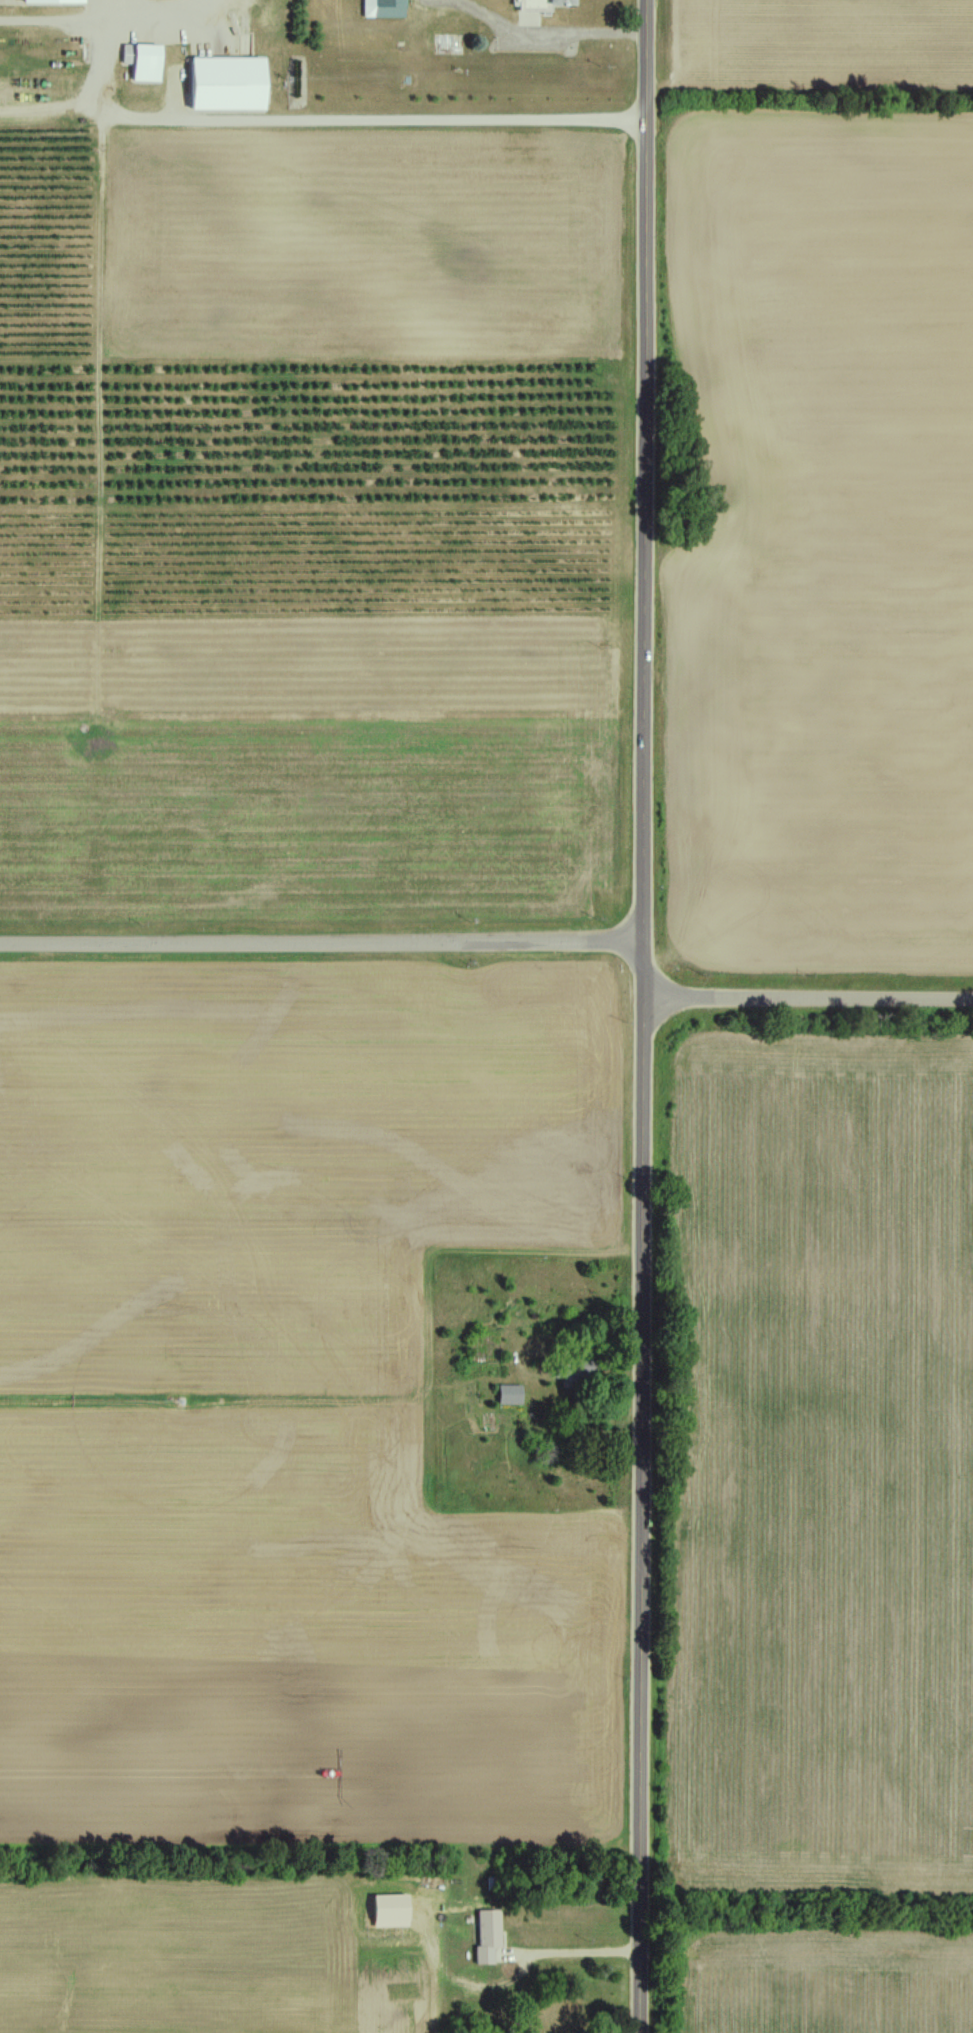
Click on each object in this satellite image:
building: (535, 4)
building: (376, 9)
road: (50, 23)
road: (105, 25)
road: (541, 36)
building: (141, 63)
building: (220, 83)
road: (54, 117)
road: (104, 263)
road: (321, 942)
road: (808, 999)
road: (643, 1016)
building: (564, 1373)
building: (506, 1394)
building: (481, 1936)
road: (575, 1952)

